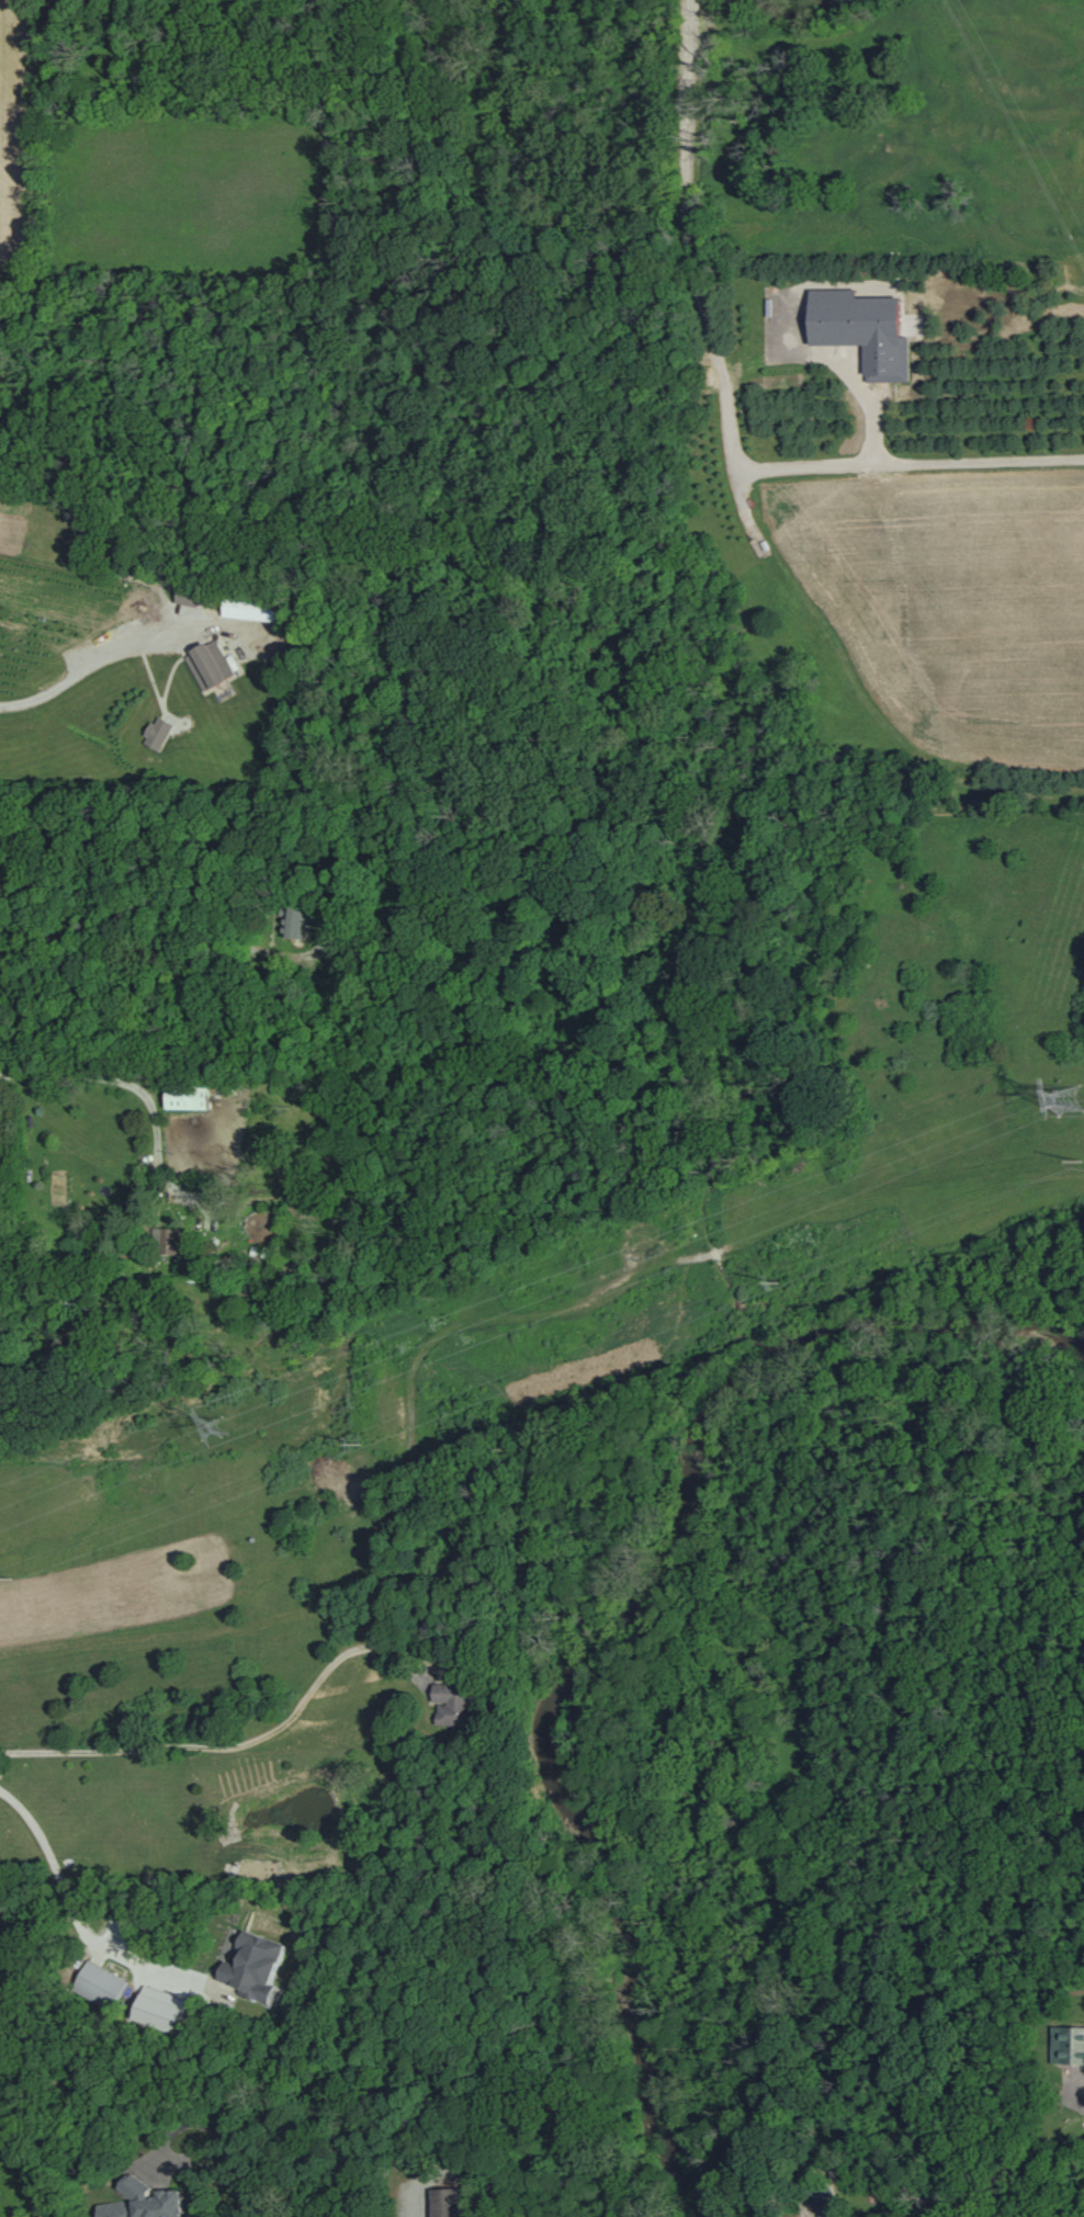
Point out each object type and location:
road: (709, 331)
building: (189, 595)
building: (208, 665)
road: (94, 681)
building: (158, 733)
building: (297, 923)
road: (143, 926)
road: (110, 1077)
building: (190, 1098)
power tower: (1071, 1101)
building: (169, 1241)
power tower: (224, 1426)
building: (451, 1705)
road: (233, 1741)
road: (79, 1924)
building: (255, 1965)
building: (100, 1984)
building: (159, 2007)
building: (1068, 2045)
road: (222, 2138)
building: (154, 2198)
building: (447, 2202)
building: (827, 2203)
building: (116, 2208)

